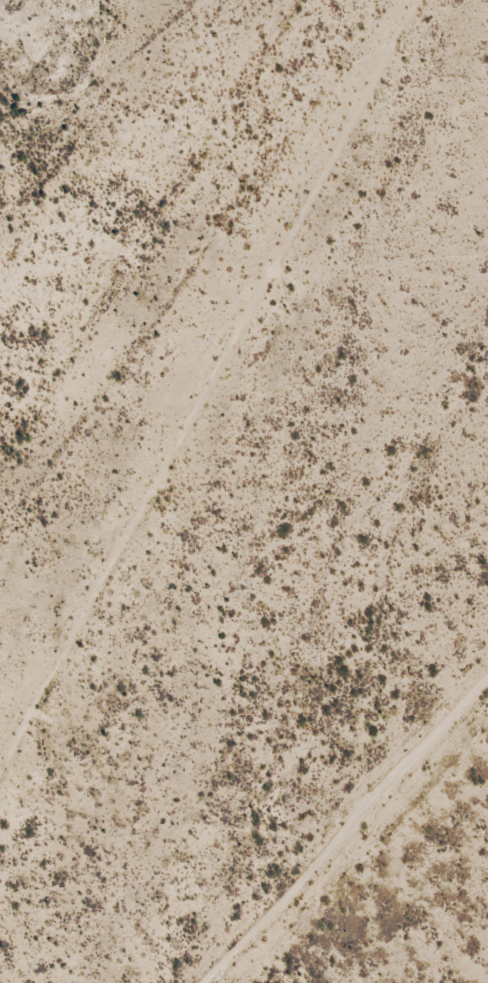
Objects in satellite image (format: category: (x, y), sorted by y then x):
road: (199, 361)
road: (348, 842)

